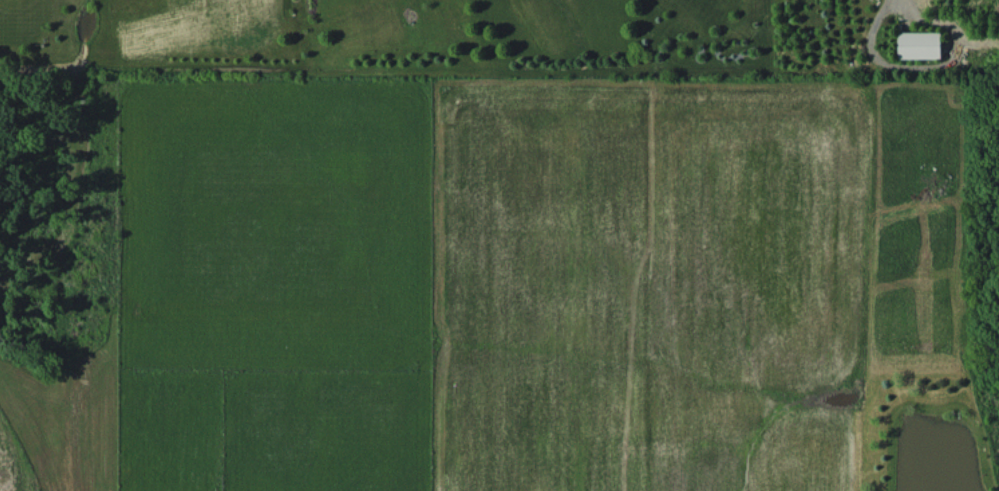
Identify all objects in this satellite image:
building: (919, 44)

